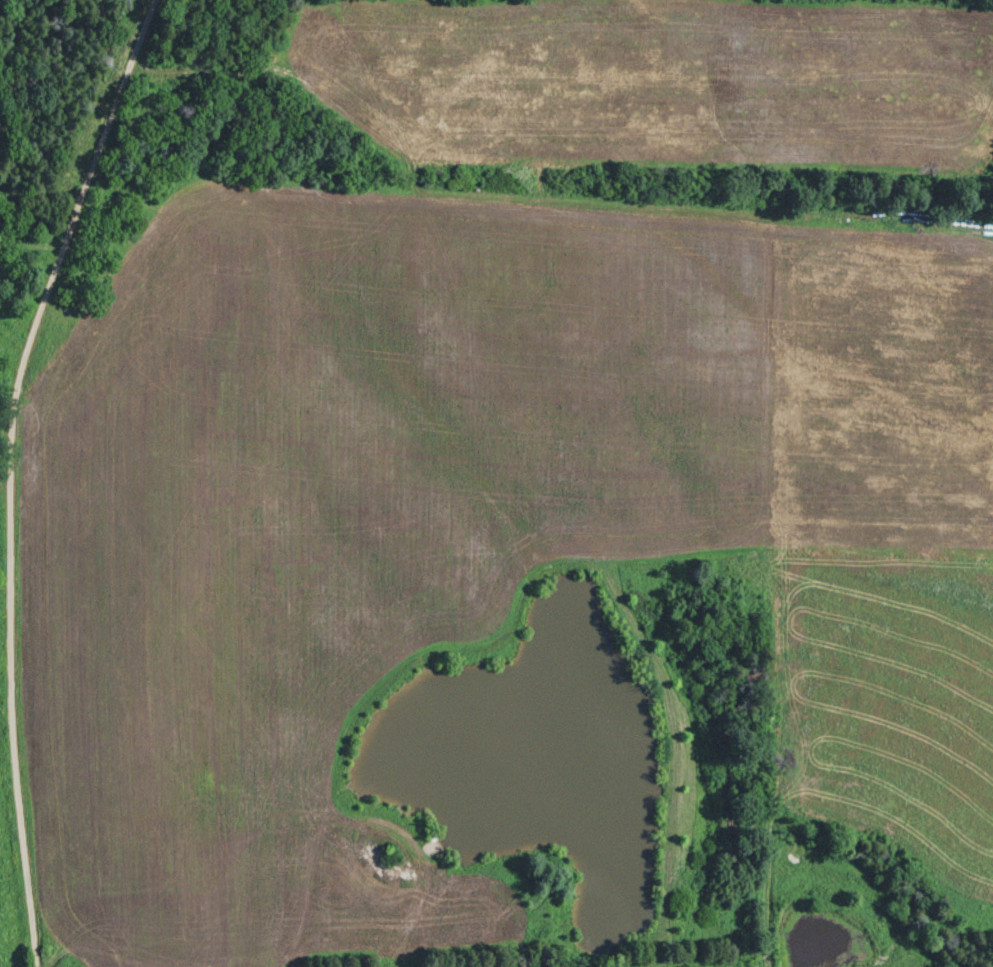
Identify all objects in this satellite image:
road: (11, 472)

